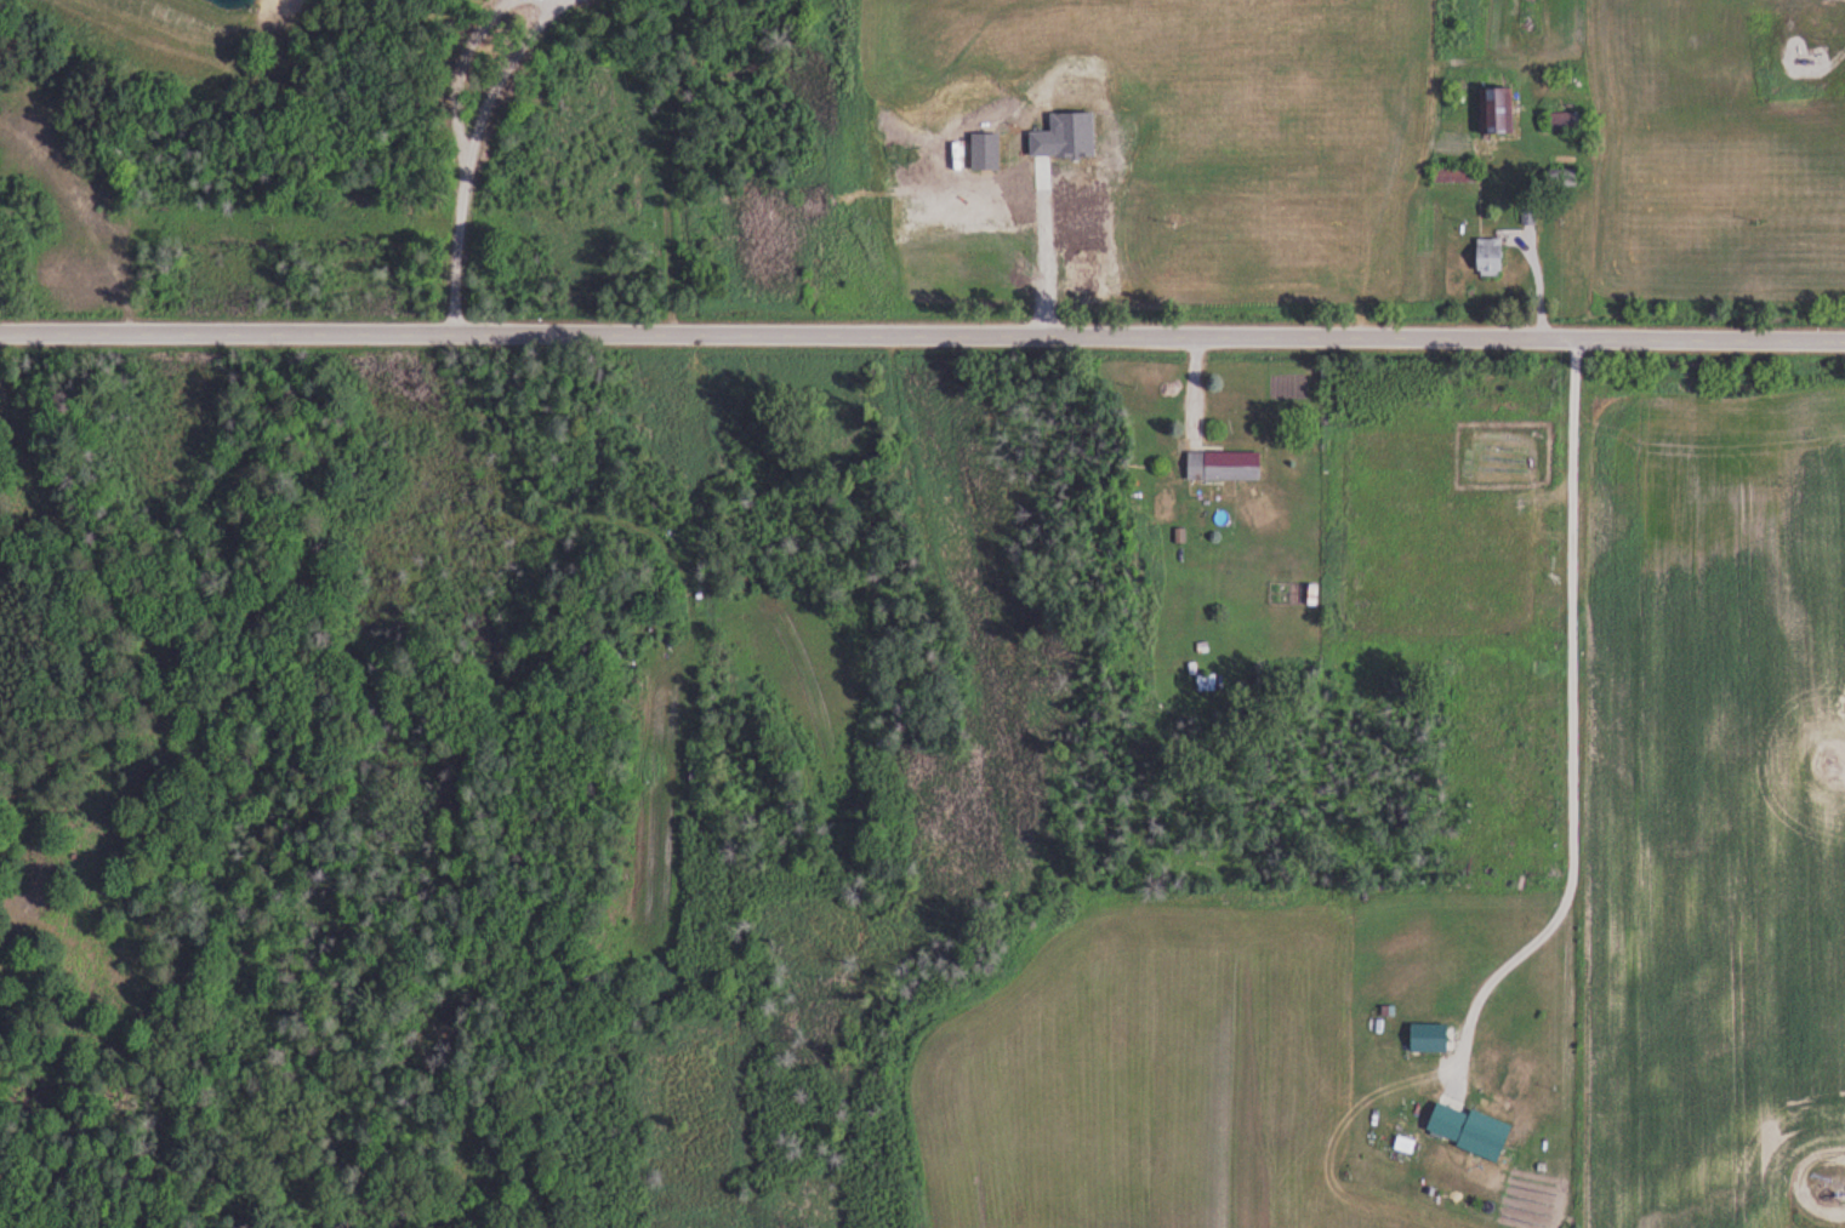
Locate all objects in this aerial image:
road: (1843, 10)
petroleum well: (1807, 61)
building: (1497, 110)
building: (1564, 122)
road: (476, 154)
building: (1562, 179)
building: (1490, 257)
road: (922, 335)
building: (1224, 466)
building: (1207, 682)
road: (1570, 719)
building: (1429, 1038)
building: (1485, 1136)
petroleum well: (1843, 1201)

